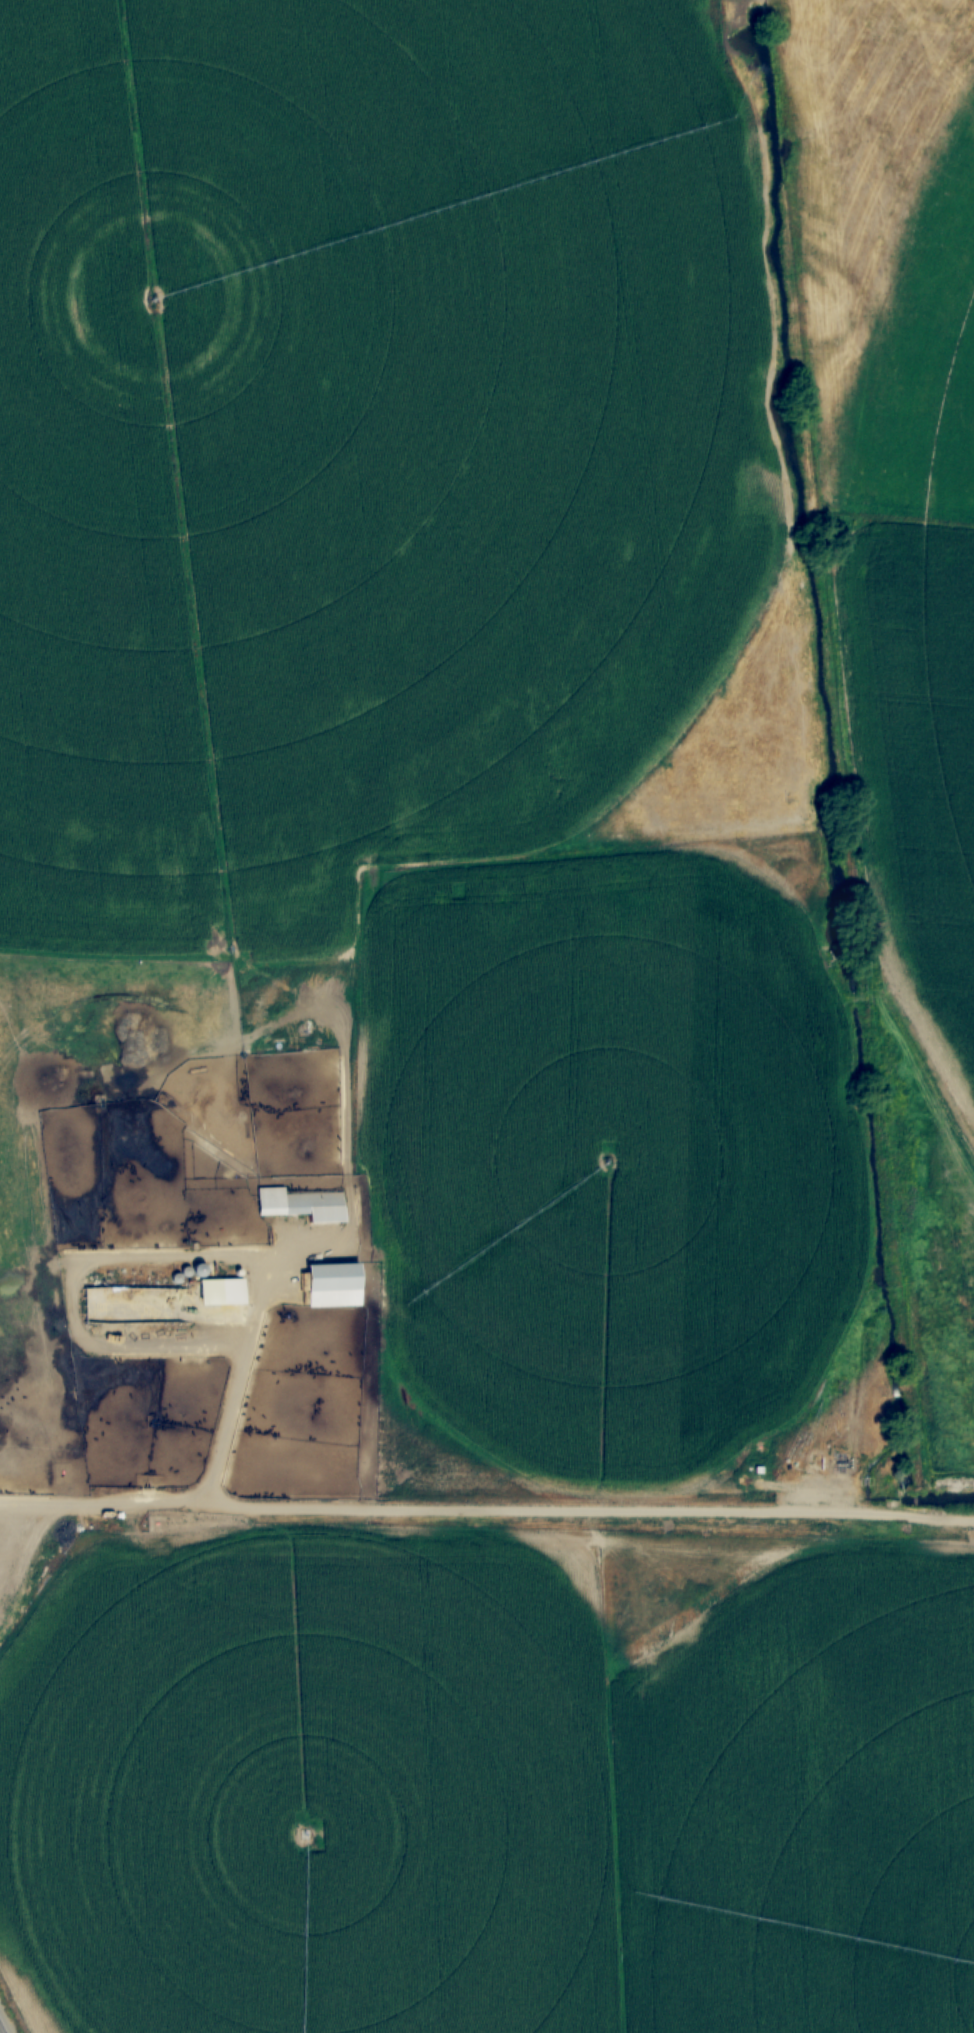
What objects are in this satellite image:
crop: (923, 606)
building: (303, 1204)
building: (337, 1284)
building: (224, 1291)
road: (233, 1384)
road: (487, 1508)

